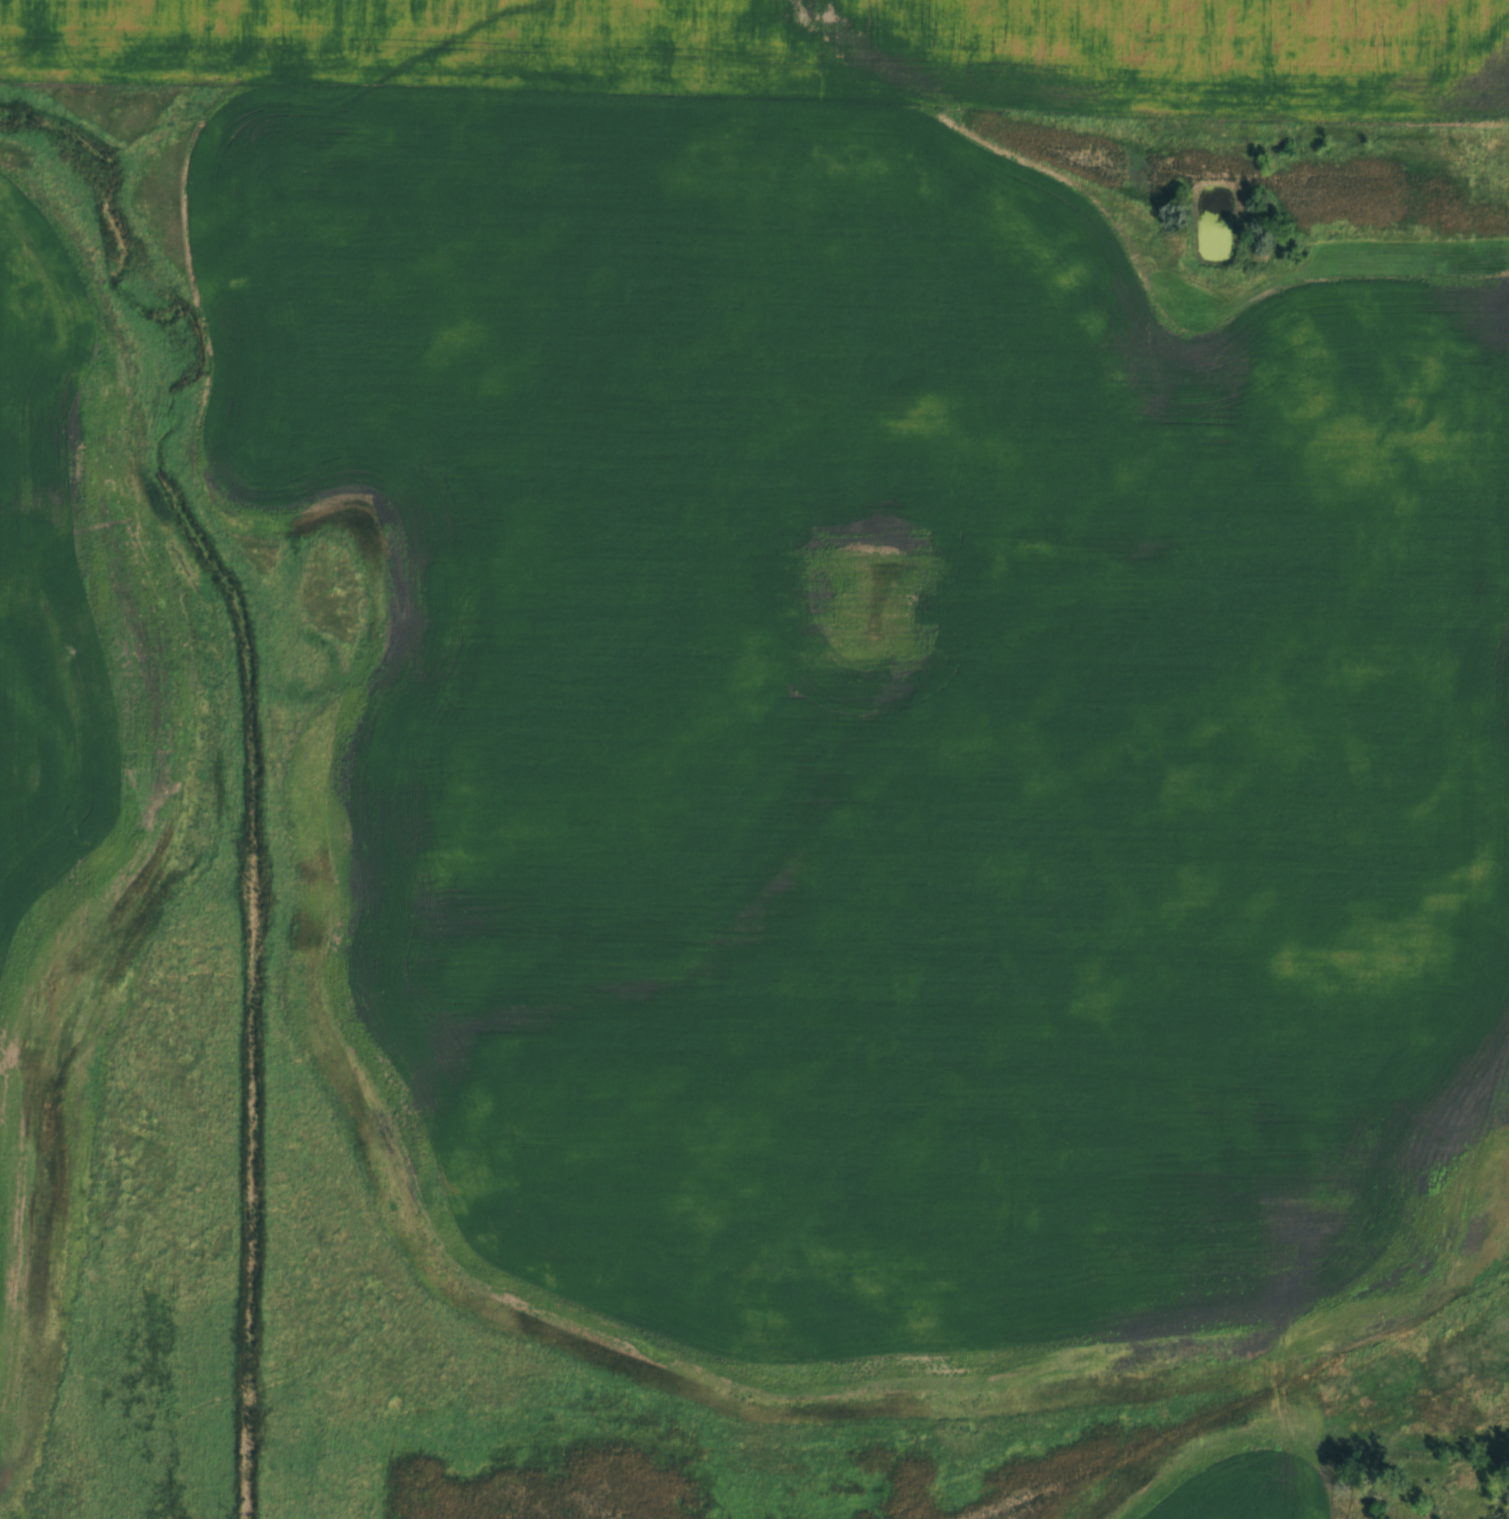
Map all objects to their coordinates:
crop: (1215, 1474)

